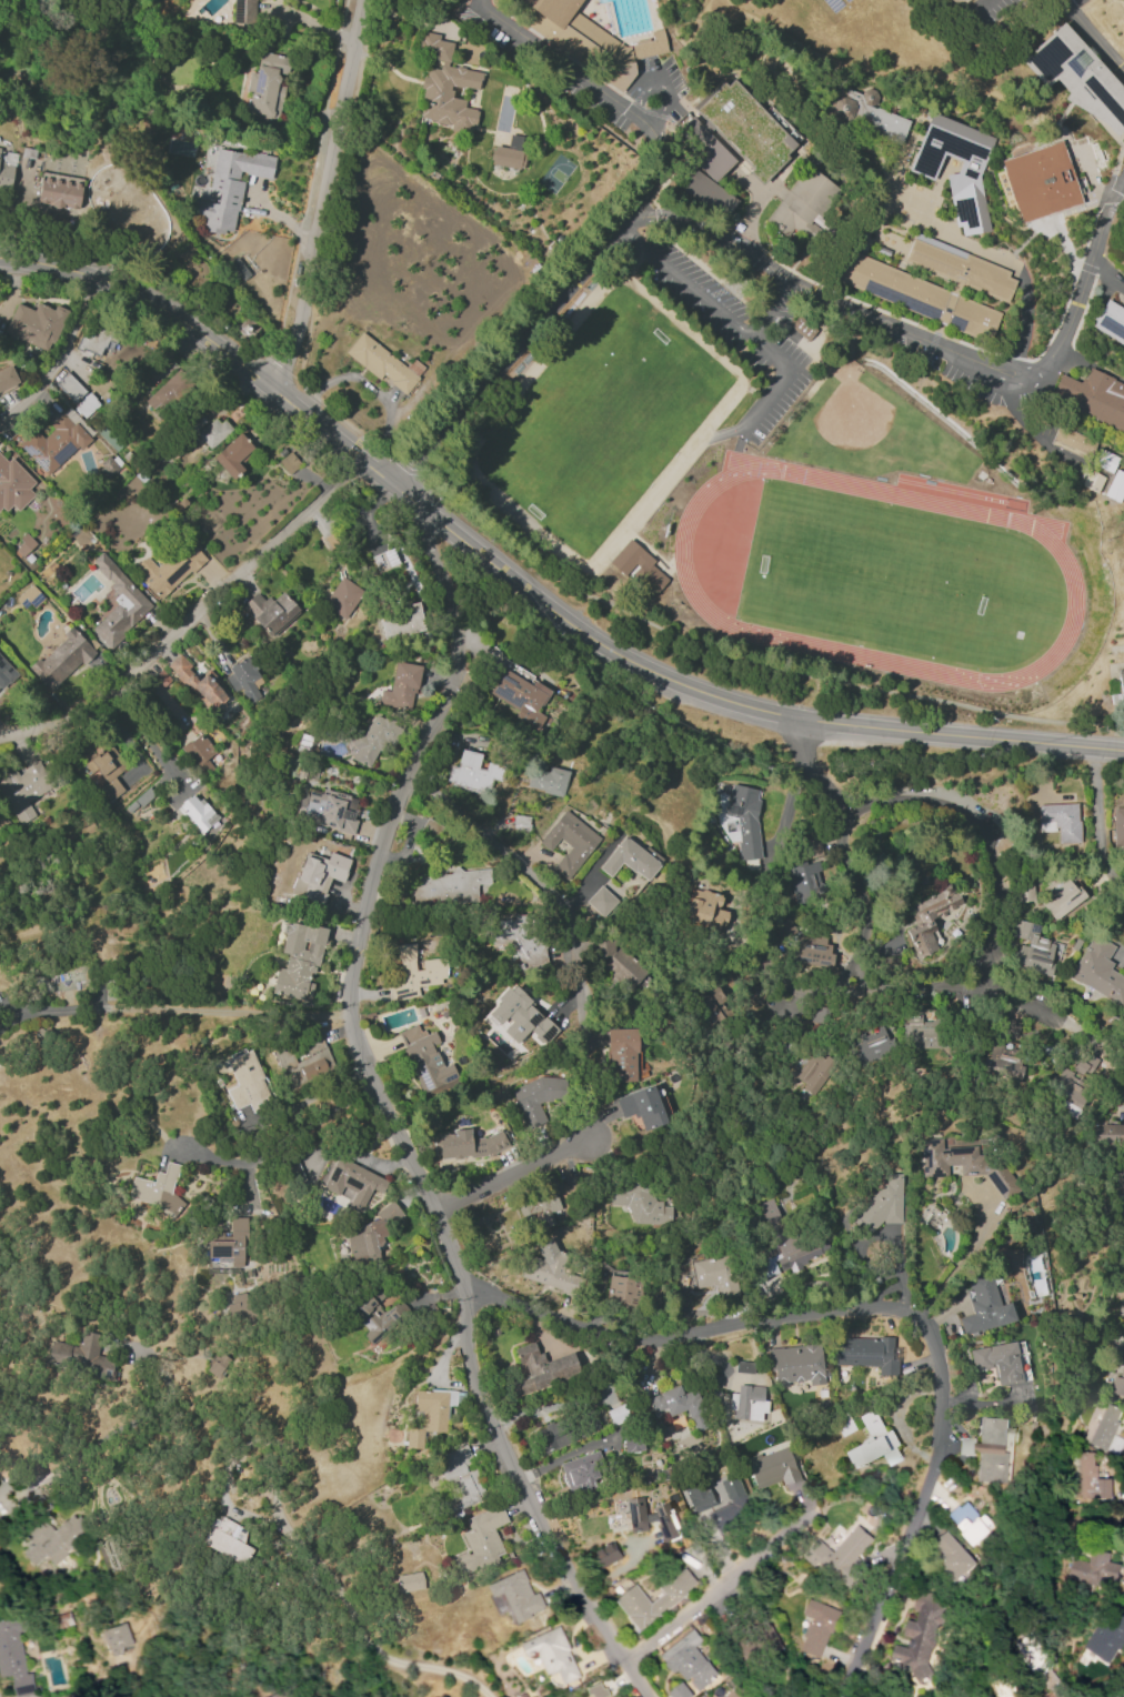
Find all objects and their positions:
building: (960, 1)
road: (984, 1)
road: (1100, 7)
road: (600, 18)
road: (1092, 37)
building: (586, 40)
building: (650, 46)
road: (894, 70)
building: (1077, 77)
road: (665, 84)
building: (267, 86)
building: (444, 87)
road: (602, 90)
building: (863, 111)
building: (749, 127)
building: (702, 145)
road: (802, 148)
building: (509, 152)
road: (1088, 163)
building: (6, 169)
building: (965, 172)
road: (1004, 172)
building: (1040, 179)
building: (229, 187)
building: (58, 190)
road: (939, 190)
building: (707, 192)
road: (322, 195)
road: (1106, 199)
road: (1087, 203)
building: (803, 204)
road: (833, 207)
road: (853, 221)
road: (831, 230)
road: (844, 239)
road: (759, 260)
building: (960, 265)
road: (1082, 267)
building: (916, 293)
road: (710, 303)
road: (844, 305)
road: (218, 319)
building: (1110, 320)
road: (1023, 322)
building: (34, 324)
building: (804, 327)
parking lot: (730, 332)
road: (931, 342)
building: (94, 343)
road: (969, 344)
road: (930, 348)
road: (511, 349)
road: (59, 358)
building: (383, 363)
building: (7, 379)
road: (783, 380)
building: (70, 386)
building: (175, 395)
building: (1093, 395)
building: (87, 405)
park: (604, 421)
road: (1030, 429)
building: (212, 431)
park: (869, 431)
building: (1072, 439)
building: (54, 442)
road: (737, 445)
building: (232, 455)
building: (288, 462)
building: (107, 466)
building: (16, 483)
building: (1115, 486)
track: (893, 494)
building: (384, 560)
building: (170, 568)
building: (638, 569)
park: (886, 573)
road: (525, 590)
building: (28, 596)
building: (342, 598)
building: (118, 603)
building: (269, 611)
road: (191, 617)
building: (400, 621)
track: (857, 654)
road: (741, 655)
building: (61, 660)
building: (4, 671)
building: (242, 676)
building: (197, 681)
building: (401, 686)
building: (518, 690)
building: (1120, 692)
road: (147, 739)
building: (373, 740)
building: (199, 752)
building: (104, 772)
building: (473, 772)
building: (543, 776)
building: (23, 789)
building: (327, 809)
building: (197, 812)
building: (744, 820)
building: (1060, 821)
road: (974, 822)
road: (1096, 824)
building: (1117, 826)
road: (850, 837)
building: (569, 842)
building: (629, 860)
building: (807, 874)
building: (318, 875)
building: (448, 886)
building: (1060, 895)
road: (553, 896)
building: (601, 901)
building: (705, 911)
building: (930, 918)
building: (784, 928)
building: (518, 938)
building: (1032, 948)
building: (813, 951)
building: (298, 961)
building: (620, 964)
road: (960, 970)
building: (1098, 970)
building: (415, 973)
road: (984, 973)
road: (855, 977)
road: (840, 978)
road: (792, 985)
road: (945, 986)
building: (754, 994)
building: (712, 1007)
road: (173, 1010)
building: (521, 1017)
building: (922, 1028)
road: (1083, 1037)
building: (873, 1045)
building: (622, 1054)
building: (425, 1060)
building: (1003, 1061)
road: (1117, 1062)
building: (304, 1063)
building: (807, 1072)
building: (1073, 1080)
building: (247, 1083)
building: (534, 1097)
building: (641, 1106)
road: (388, 1117)
building: (1106, 1134)
building: (469, 1144)
road: (272, 1154)
building: (964, 1164)
road: (509, 1174)
building: (1121, 1175)
building: (352, 1182)
building: (157, 1189)
building: (1123, 1198)
building: (641, 1202)
building: (881, 1205)
building: (540, 1209)
building: (774, 1215)
building: (369, 1236)
building: (229, 1243)
building: (795, 1251)
building: (548, 1268)
building: (707, 1269)
building: (621, 1289)
building: (984, 1306)
building: (238, 1307)
road: (884, 1311)
building: (375, 1314)
building: (865, 1354)
building: (80, 1356)
building: (997, 1360)
building: (796, 1365)
building: (541, 1368)
building: (1118, 1379)
building: (747, 1403)
building: (676, 1404)
building: (428, 1415)
building: (1103, 1426)
road: (121, 1435)
building: (550, 1437)
building: (632, 1442)
building: (873, 1443)
building: (986, 1450)
building: (773, 1468)
building: (579, 1470)
building: (459, 1479)
building: (1087, 1479)
building: (698, 1496)
building: (731, 1502)
building: (649, 1517)
building: (967, 1523)
building: (227, 1539)
building: (50, 1540)
building: (480, 1542)
building: (605, 1554)
building: (836, 1555)
building: (949, 1556)
building: (1093, 1569)
building: (409, 1581)
road: (715, 1587)
road: (340, 1594)
building: (515, 1595)
building: (630, 1597)
building: (814, 1628)
building: (1105, 1636)
building: (917, 1637)
building: (114, 1638)
building: (550, 1654)
building: (12, 1658)
building: (686, 1660)
road: (451, 1671)
building: (595, 1690)
building: (678, 1691)
road: (1120, 1694)
building: (274, 1696)

